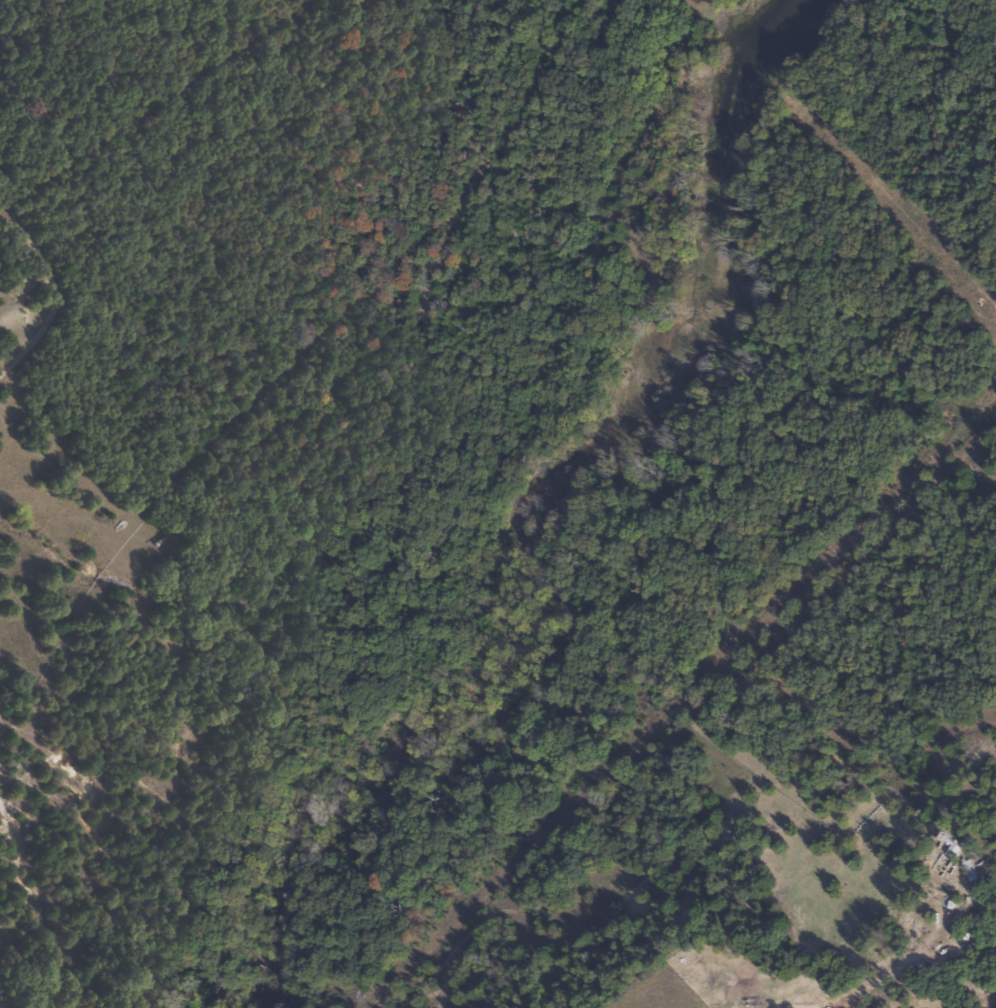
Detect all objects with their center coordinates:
building: (947, 842)

